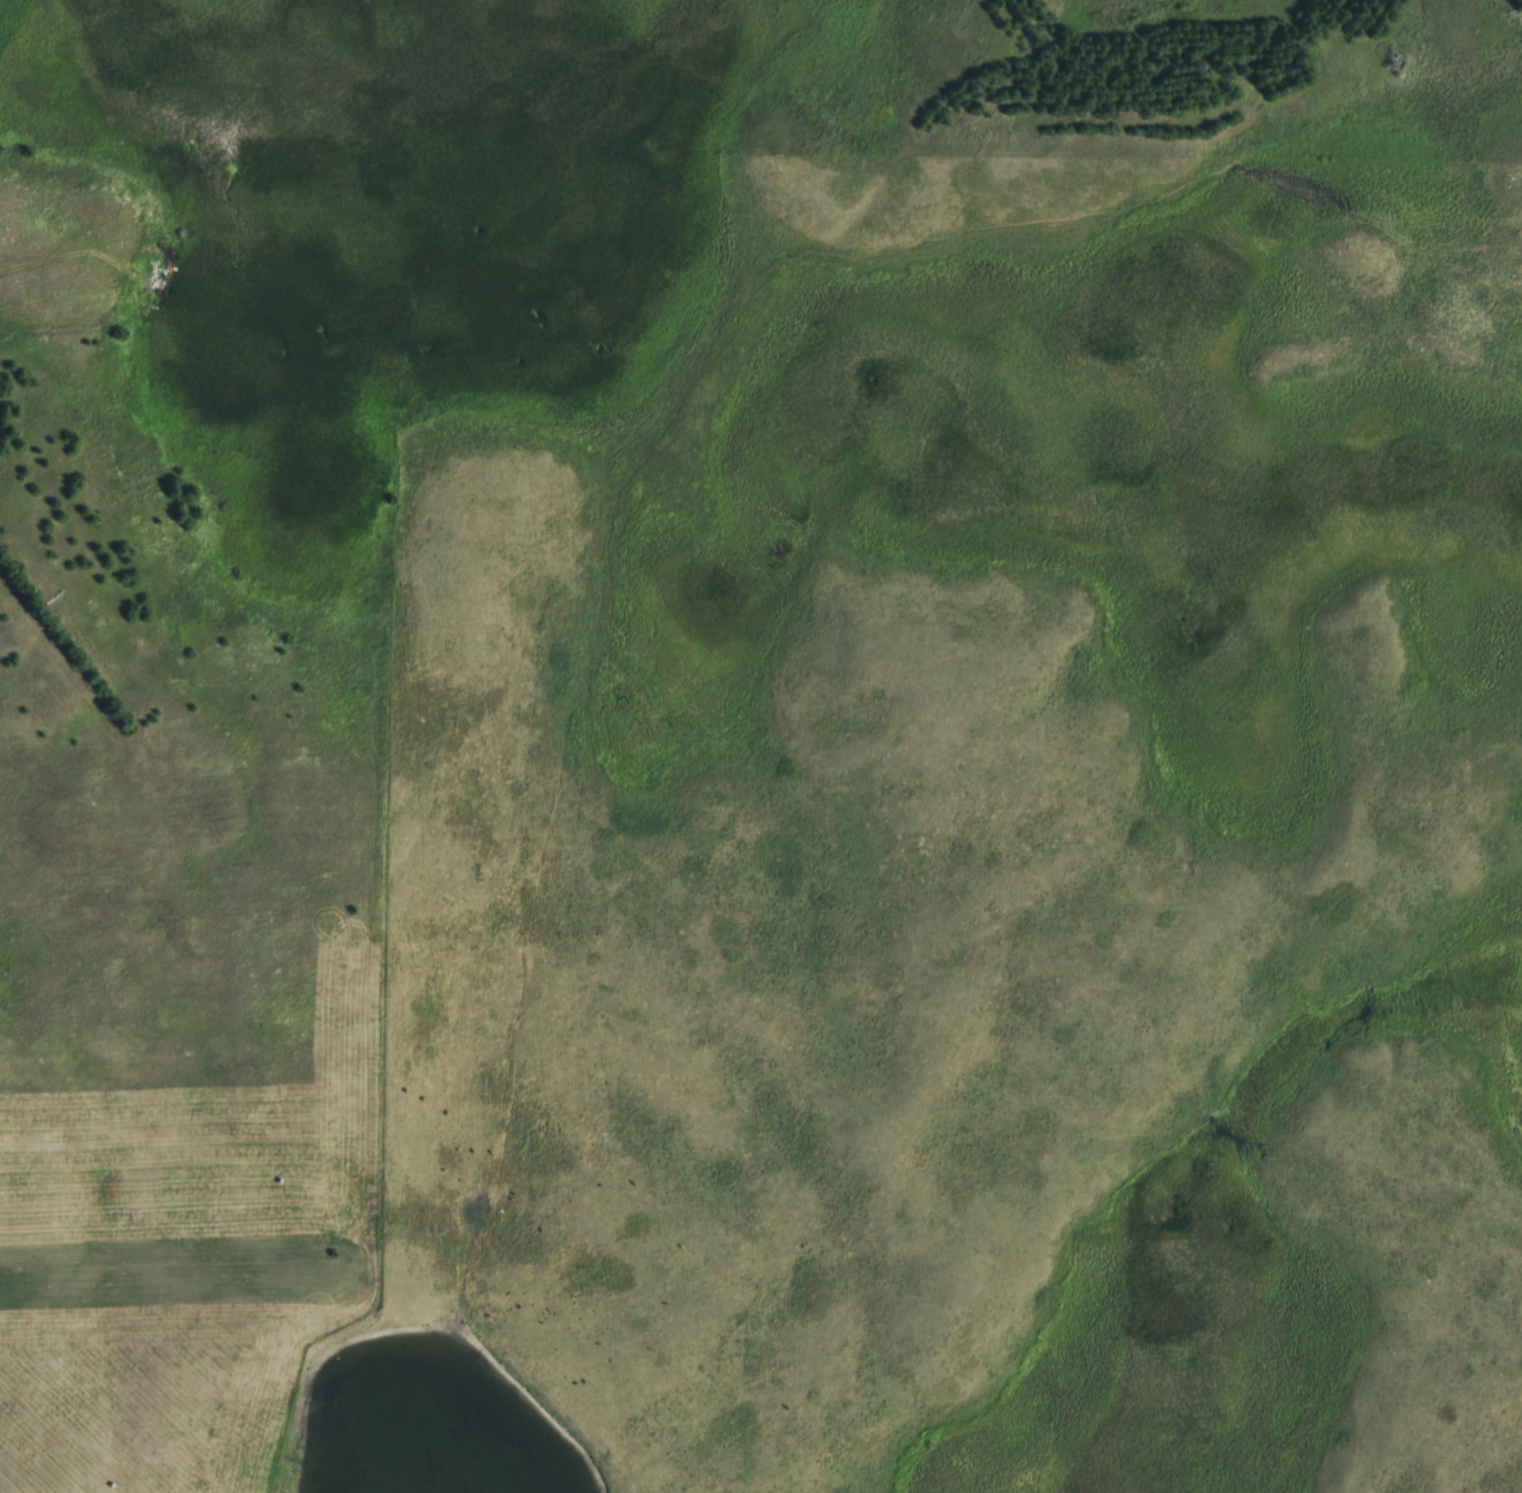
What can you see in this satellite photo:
airport runway: (175, 1293)

